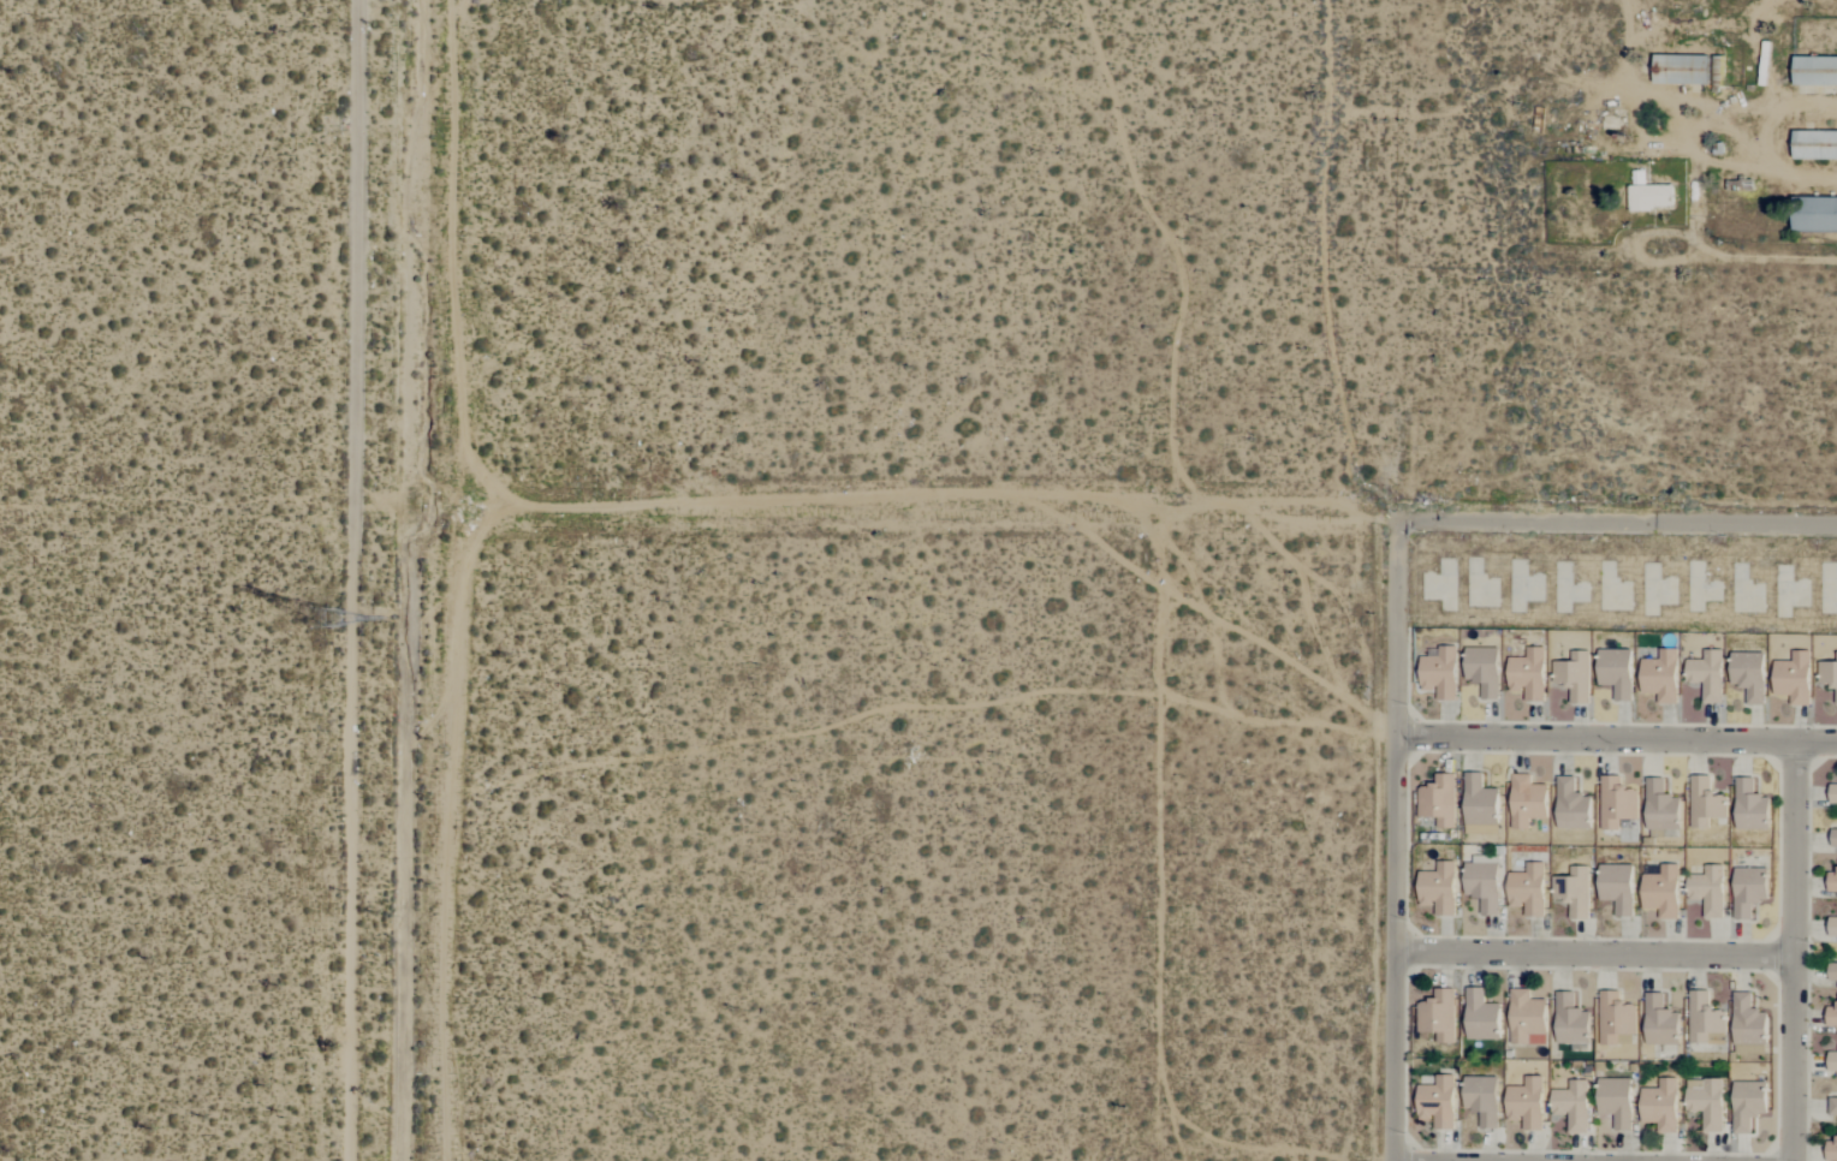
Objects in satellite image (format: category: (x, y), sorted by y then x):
building: (1681, 70)
building: (1814, 71)
building: (1814, 145)
building: (1649, 197)
building: (1814, 214)
road: (353, 250)
road: (1375, 261)
road: (1094, 516)
power tower: (323, 630)
building: (1482, 669)
building: (1615, 672)
building: (1439, 673)
building: (1527, 673)
building: (1827, 674)
building: (1574, 675)
building: (1660, 675)
building: (1706, 675)
building: (1748, 675)
building: (1794, 678)
road: (1616, 738)
building: (1832, 793)
building: (1438, 800)
building: (1527, 800)
building: (1705, 802)
building: (1616, 803)
building: (1479, 805)
building: (1571, 805)
building: (1750, 805)
building: (1660, 806)
road: (369, 830)
building: (1833, 838)
road: (1395, 841)
building: (1832, 882)
building: (1482, 886)
building: (1438, 887)
building: (1616, 887)
building: (1527, 889)
building: (1661, 891)
building: (1707, 891)
building: (1747, 891)
building: (1575, 892)
building: (1832, 927)
road: (1795, 949)
road: (1594, 952)
building: (1832, 972)
building: (1438, 1016)
building: (1480, 1016)
building: (1831, 1017)
building: (1527, 1018)
building: (1616, 1019)
building: (1705, 1019)
building: (1570, 1020)
building: (1747, 1020)
building: (1659, 1022)
building: (1832, 1061)
building: (1481, 1100)
building: (1616, 1101)
building: (1437, 1102)
building: (1706, 1102)
building: (1526, 1103)
building: (1660, 1105)
building: (1747, 1105)
building: (1571, 1106)
building: (1832, 1107)
building: (1831, 1151)

